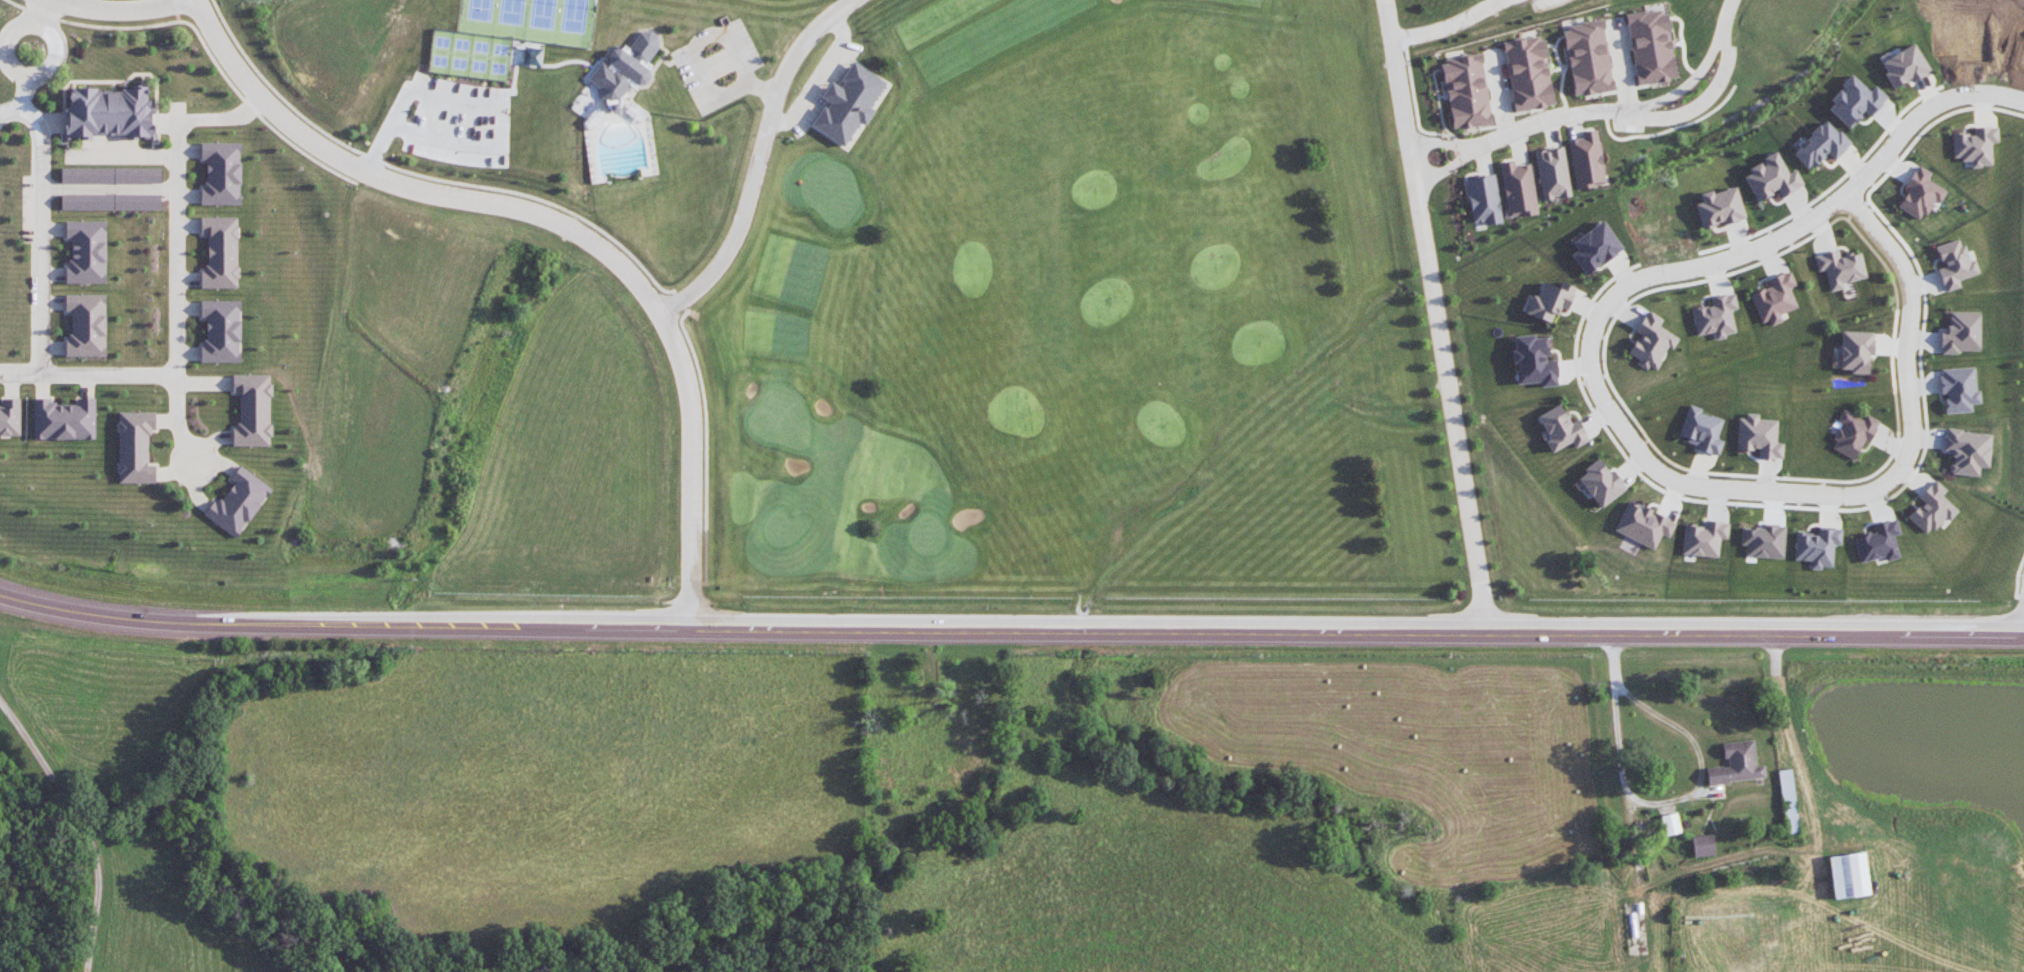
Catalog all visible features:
road: (88, 5)
road: (43, 11)
road: (120, 11)
road: (1448, 22)
road: (5, 40)
road: (700, 41)
building: (1651, 46)
building: (1588, 57)
building: (1904, 65)
road: (720, 66)
building: (629, 68)
road: (825, 80)
road: (1688, 81)
building: (1466, 90)
road: (19, 100)
building: (1855, 100)
building: (849, 102)
building: (109, 112)
road: (1642, 113)
road: (1919, 113)
road: (211, 118)
road: (1440, 143)
building: (1821, 145)
building: (1975, 145)
road: (122, 157)
road: (757, 158)
building: (1586, 160)
road: (1446, 168)
building: (221, 172)
building: (1552, 173)
building: (110, 175)
building: (1771, 177)
building: (1517, 189)
building: (1921, 193)
building: (1483, 199)
building: (110, 201)
building: (1719, 207)
road: (563, 226)
road: (42, 235)
building: (1594, 246)
road: (175, 247)
building: (87, 250)
building: (220, 252)
building: (1955, 263)
building: (1840, 267)
building: (1775, 298)
building: (1549, 300)
road: (1434, 312)
building: (1715, 316)
park: (1087, 321)
building: (86, 324)
building: (221, 330)
building: (1962, 332)
building: (1651, 341)
building: (1856, 350)
building: (1534, 360)
road: (93, 375)
building: (1959, 388)
building: (253, 409)
building: (10, 416)
building: (65, 419)
road: (177, 428)
building: (1561, 428)
building: (1701, 429)
building: (1852, 432)
building: (1758, 435)
building: (135, 446)
building: (1967, 450)
building: (1600, 483)
road: (1701, 486)
building: (238, 501)
building: (1932, 507)
building: (1642, 524)
building: (1703, 538)
building: (1762, 540)
building: (1878, 541)
building: (1817, 545)
road: (1010, 627)
road: (1792, 734)
building: (1736, 763)
building: (1786, 784)
road: (1653, 802)
building: (1670, 823)
road: (82, 824)
building: (1703, 844)
building: (1848, 874)

